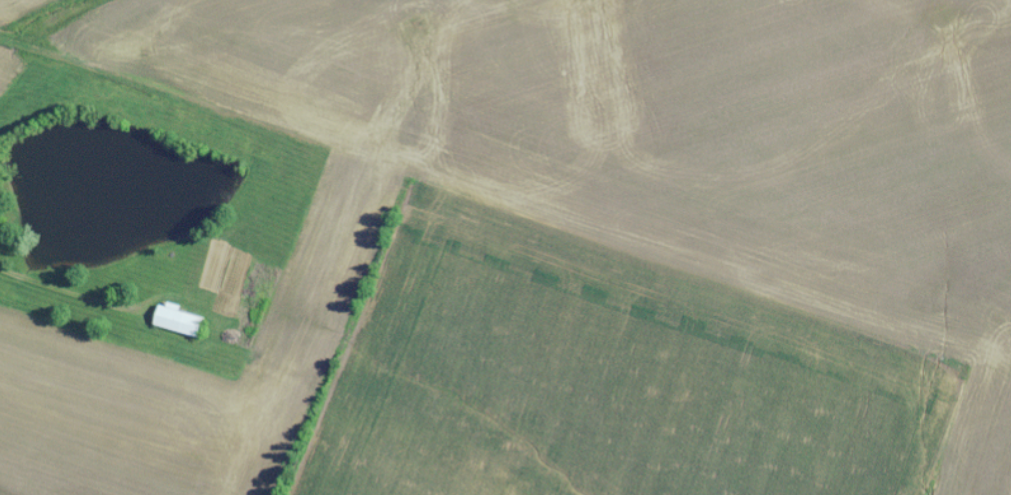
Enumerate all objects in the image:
road: (415, 151)
building: (186, 322)

